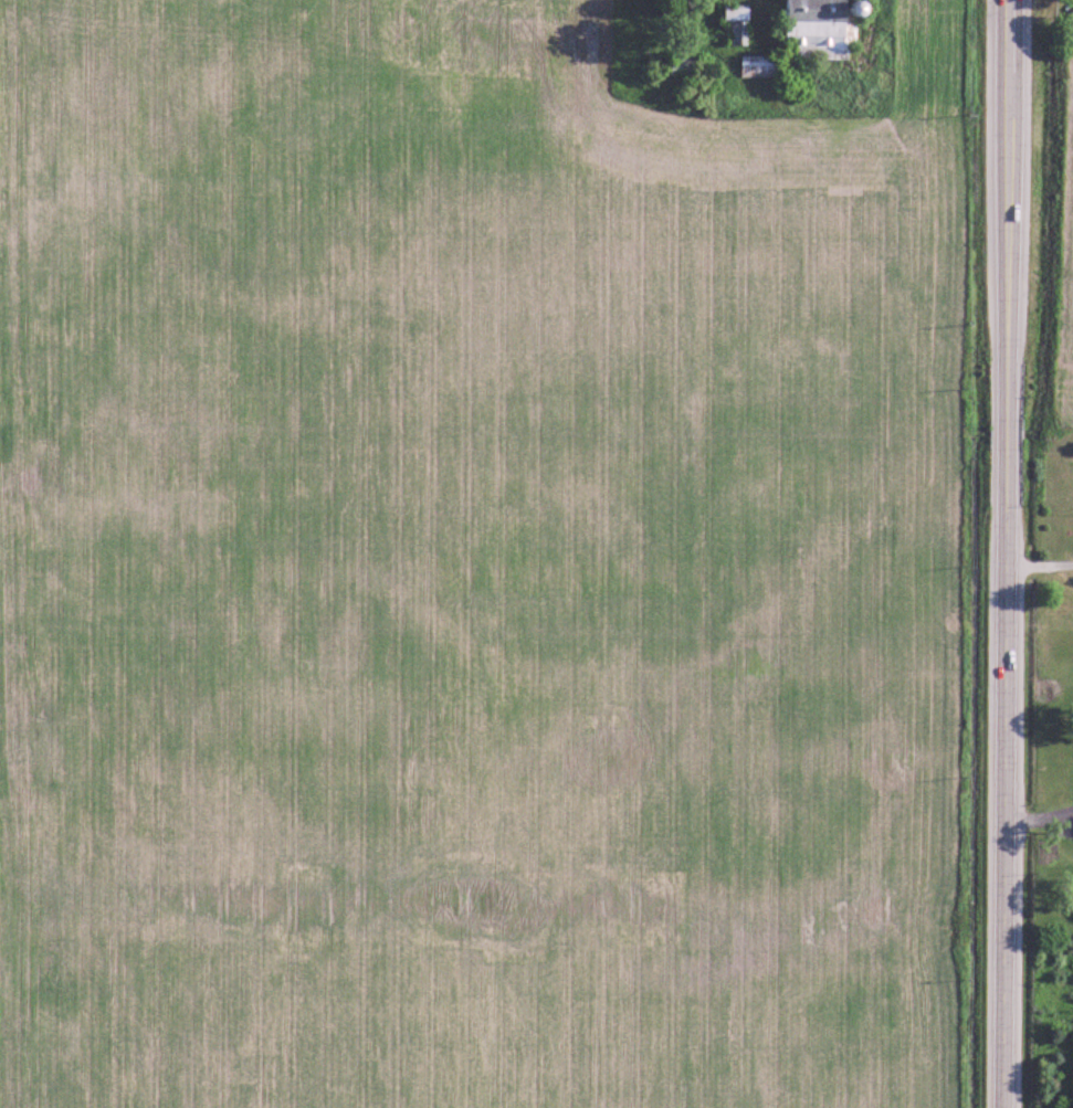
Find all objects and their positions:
building: (739, 14)
building: (809, 38)
road: (1004, 553)

